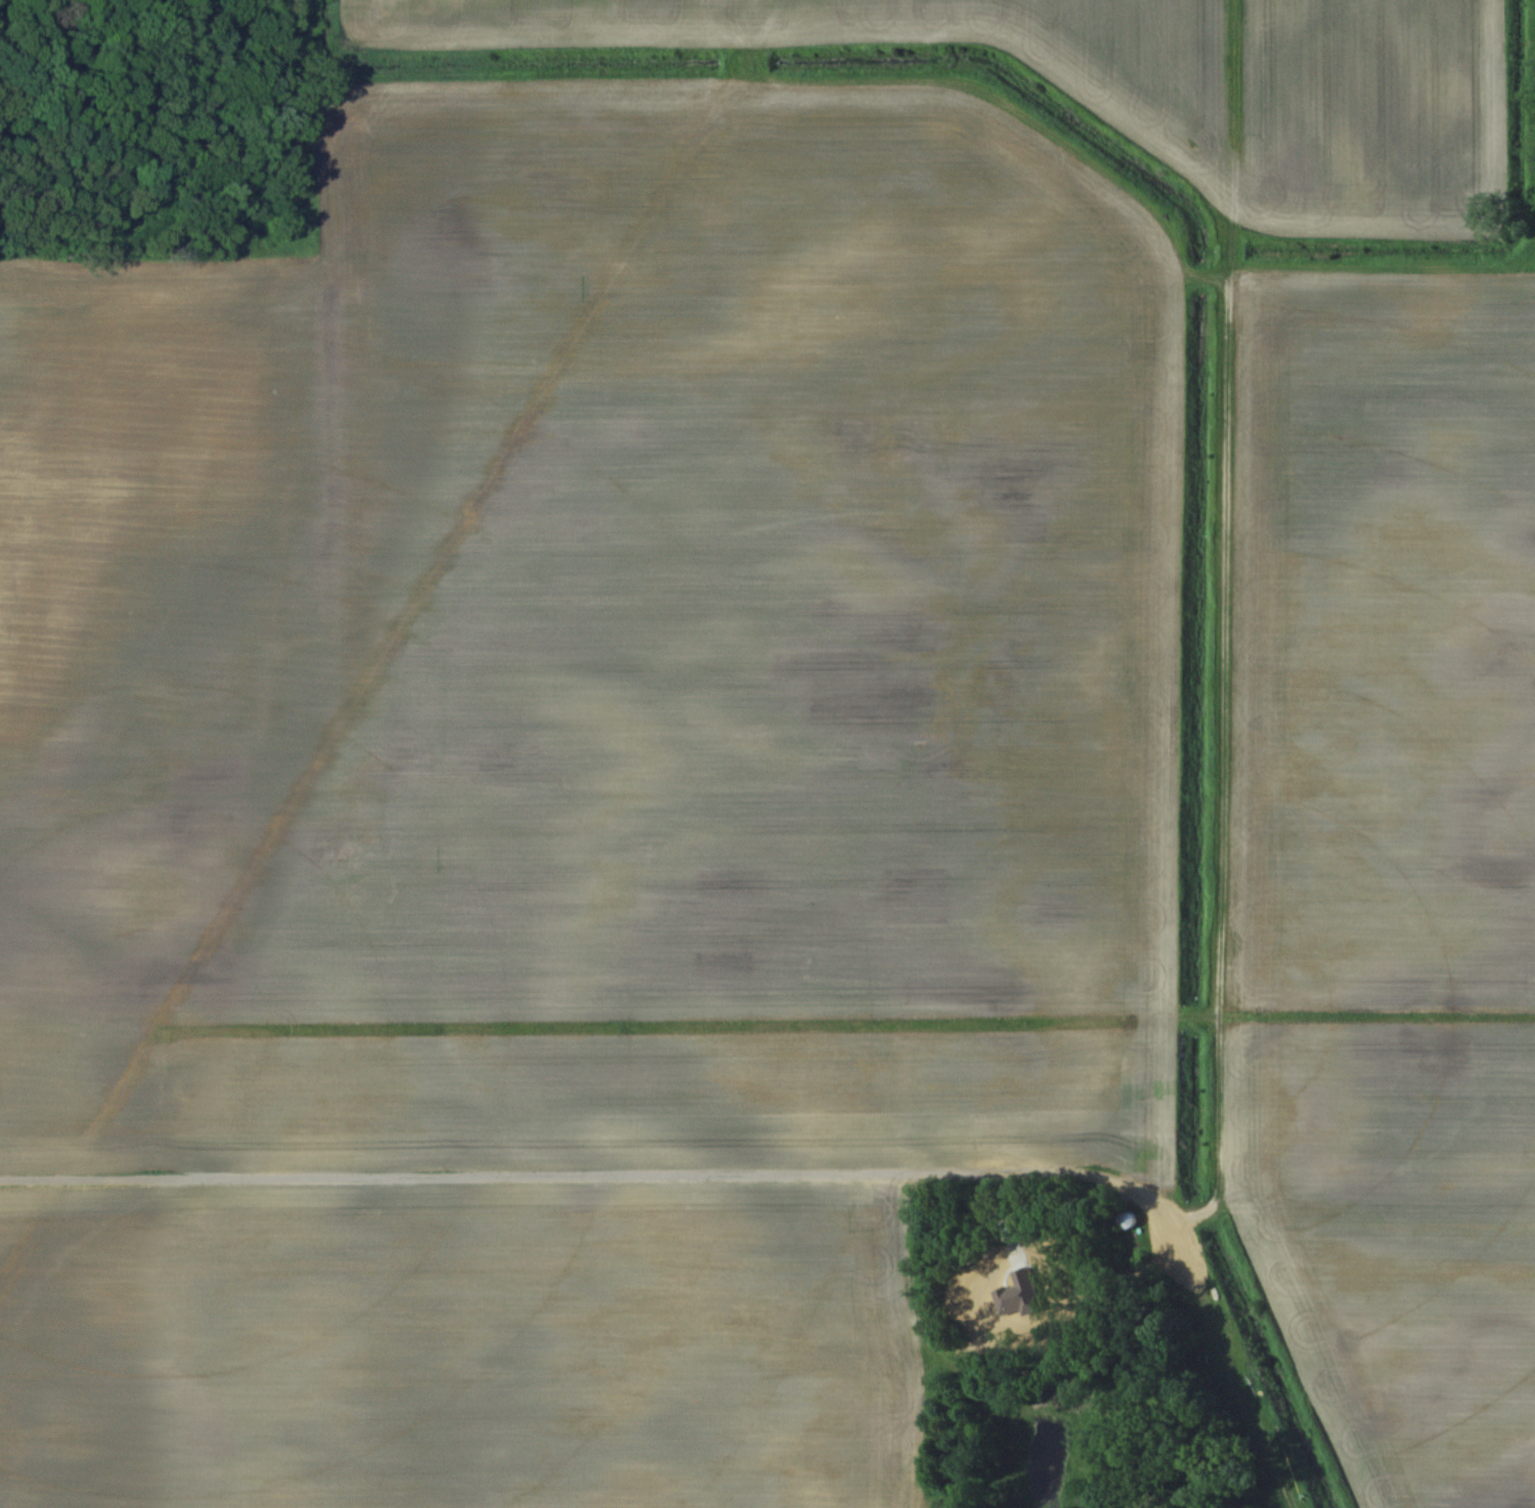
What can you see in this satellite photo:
building: (1129, 1219)

